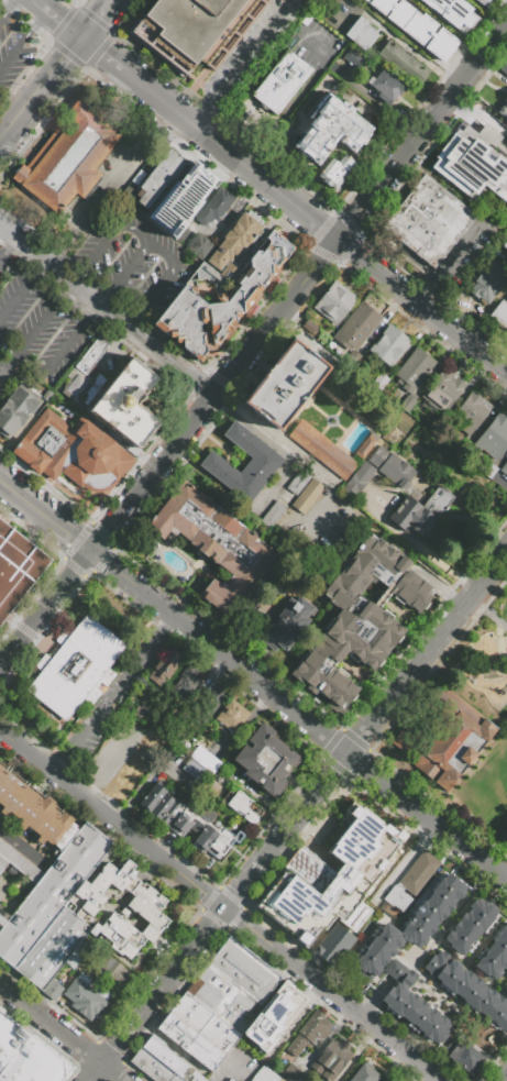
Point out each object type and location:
building: (484, 2)
road: (4, 5)
building: (453, 13)
road: (63, 18)
road: (101, 19)
road: (506, 24)
building: (417, 26)
building: (195, 29)
building: (362, 32)
traffic signals: (86, 37)
road: (397, 40)
road: (24, 41)
parking lot: (317, 46)
parking lot: (20, 49)
parking lot: (257, 52)
road: (106, 53)
road: (321, 53)
road: (247, 54)
building: (352, 57)
building: (401, 62)
road: (63, 65)
building: (504, 67)
building: (280, 85)
building: (386, 89)
road: (159, 98)
building: (504, 109)
road: (23, 111)
road: (480, 114)
road: (200, 118)
road: (3, 128)
road: (277, 128)
road: (476, 128)
building: (330, 131)
road: (3, 134)
road: (8, 145)
building: (67, 159)
building: (472, 162)
building: (334, 172)
building: (158, 176)
road: (110, 187)
building: (192, 188)
parking lot: (108, 194)
building: (214, 207)
building: (506, 207)
road: (362, 211)
building: (428, 220)
building: (235, 239)
road: (152, 243)
building: (275, 244)
building: (505, 245)
road: (7, 246)
building: (200, 246)
road: (350, 250)
building: (265, 257)
parking lot: (137, 264)
road: (455, 266)
road: (121, 272)
building: (252, 276)
building: (487, 283)
road: (21, 288)
parking lot: (16, 290)
building: (340, 297)
building: (231, 302)
building: (329, 311)
road: (107, 312)
building: (500, 313)
building: (190, 324)
road: (34, 327)
building: (357, 332)
parking lot: (55, 340)
building: (389, 348)
building: (91, 354)
road: (57, 355)
building: (414, 368)
building: (135, 379)
building: (381, 383)
building: (285, 384)
building: (77, 386)
building: (442, 390)
building: (45, 394)
building: (408, 406)
building: (15, 408)
building: (470, 413)
building: (124, 415)
road: (275, 437)
building: (494, 439)
building: (364, 445)
building: (321, 449)
road: (170, 451)
building: (73, 453)
building: (264, 463)
building: (393, 467)
building: (504, 470)
building: (357, 481)
building: (300, 483)
building: (308, 497)
road: (25, 503)
building: (420, 511)
building: (274, 516)
building: (216, 544)
road: (418, 547)
building: (16, 569)
road: (64, 586)
road: (487, 614)
building: (360, 620)
building: (286, 625)
road: (199, 637)
road: (500, 648)
road: (428, 652)
park: (482, 660)
building: (76, 668)
building: (164, 668)
building: (185, 685)
road: (113, 694)
building: (225, 710)
road: (416, 712)
building: (140, 713)
building: (442, 739)
building: (257, 752)
building: (205, 760)
building: (196, 772)
building: (278, 772)
building: (2, 773)
building: (213, 788)
park: (488, 790)
building: (10, 793)
building: (153, 798)
building: (24, 805)
building: (163, 806)
building: (243, 806)
road: (304, 808)
building: (37, 814)
building: (174, 815)
road: (114, 817)
road: (427, 817)
building: (192, 821)
building: (46, 824)
building: (53, 827)
building: (59, 830)
building: (504, 835)
building: (205, 837)
building: (222, 841)
building: (2, 863)
building: (20, 863)
road: (150, 865)
road: (157, 871)
building: (419, 872)
road: (249, 878)
building: (331, 879)
building: (103, 884)
building: (52, 892)
building: (144, 892)
building: (396, 897)
road: (230, 900)
building: (432, 909)
building: (147, 917)
building: (2, 922)
building: (470, 926)
building: (119, 935)
building: (334, 946)
building: (52, 947)
building: (378, 950)
building: (494, 955)
road: (180, 963)
building: (249, 963)
building: (110, 969)
parking lot: (400, 969)
building: (399, 972)
building: (238, 978)
building: (467, 988)
building: (506, 989)
building: (52, 991)
road: (332, 994)
building: (79, 995)
building: (221, 997)
road: (372, 1000)
building: (93, 1008)
building: (416, 1014)
building: (274, 1017)
building: (205, 1022)
road: (49, 1024)
building: (309, 1033)
building: (191, 1040)
road: (119, 1041)
building: (164, 1055)
building: (27, 1056)
building: (331, 1058)
building: (465, 1058)
building: (151, 1066)
parking lot: (236, 1067)
road: (95, 1072)
road: (110, 1072)
road: (229, 1072)
building: (289, 1072)
building: (365, 1073)
building: (263, 1074)
road: (504, 1077)
building: (176, 1078)
building: (196, 1078)
building: (275, 1078)
building: (232, 1080)

